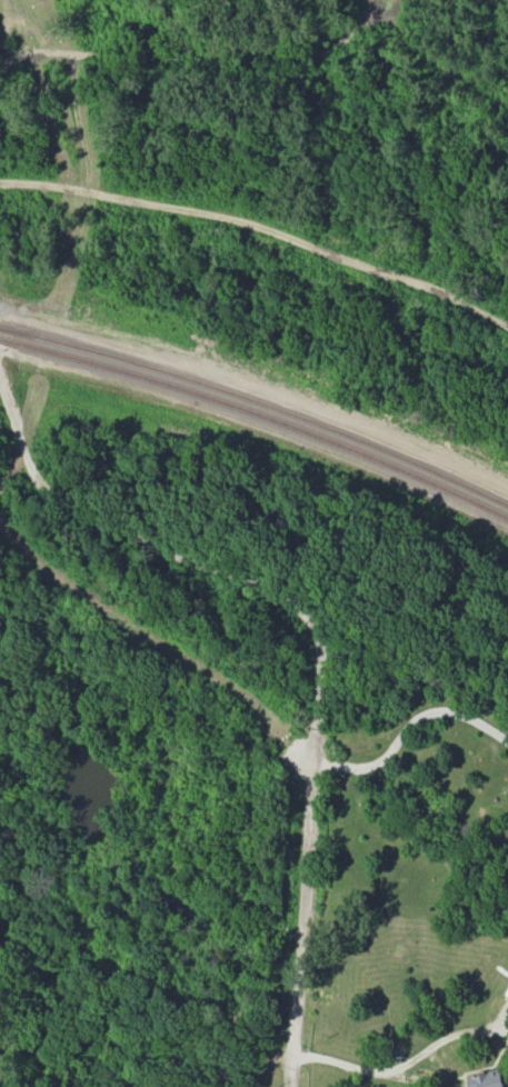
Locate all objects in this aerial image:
road: (259, 233)
railway: (258, 393)
railway: (258, 405)
road: (318, 639)
road: (409, 727)
road: (361, 1067)
building: (485, 1079)

